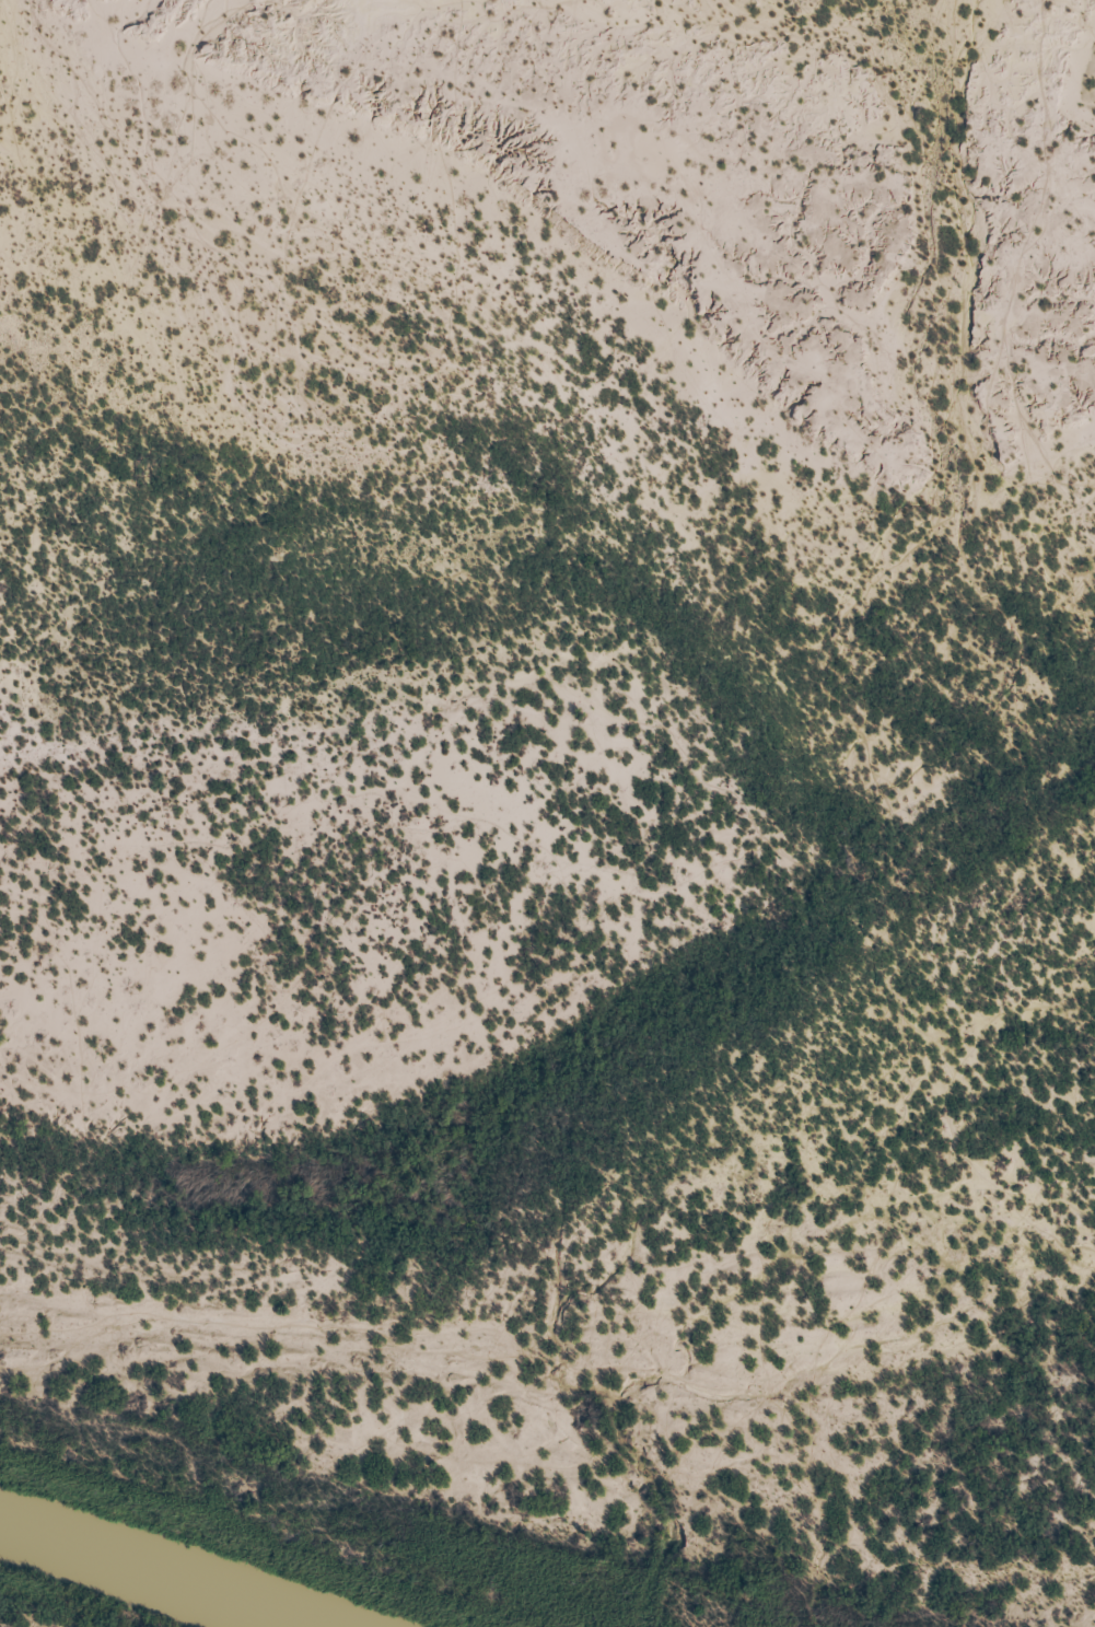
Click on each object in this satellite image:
river: (159, 1570)

